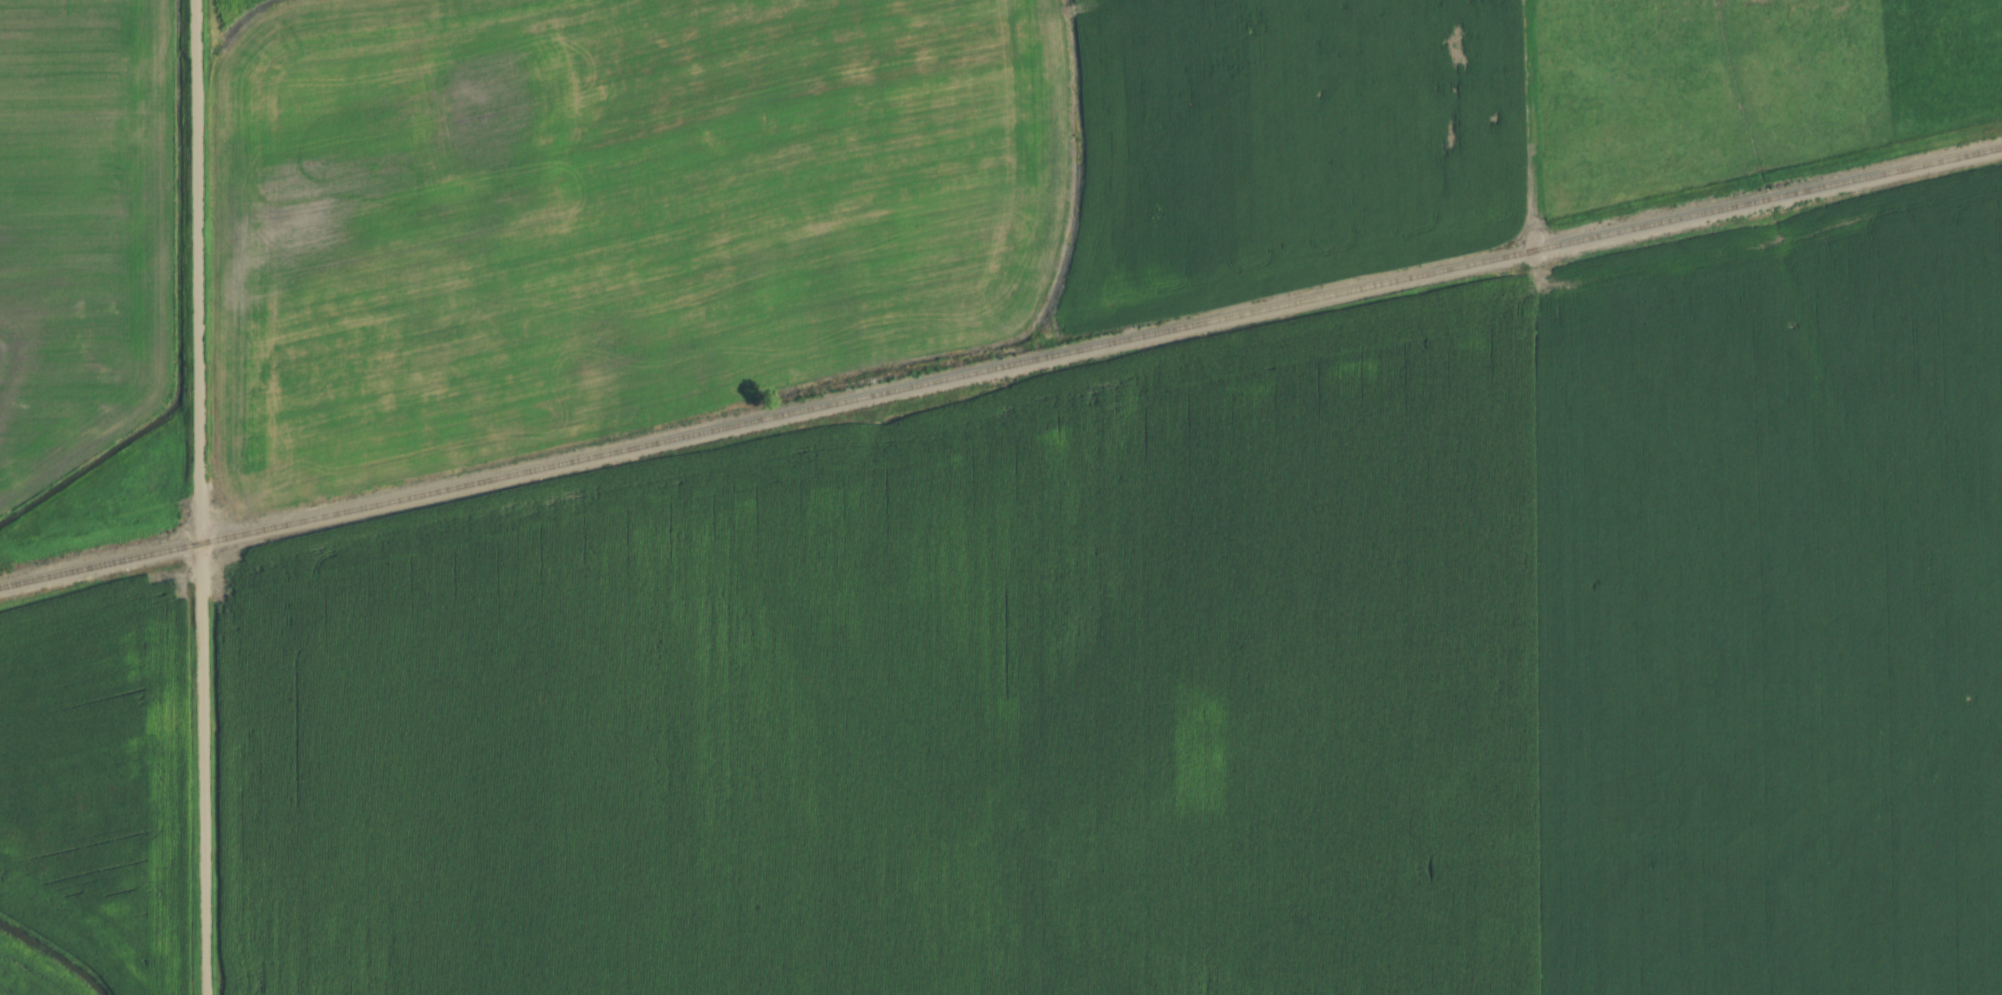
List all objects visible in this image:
railway: (1000, 366)
road: (199, 497)

